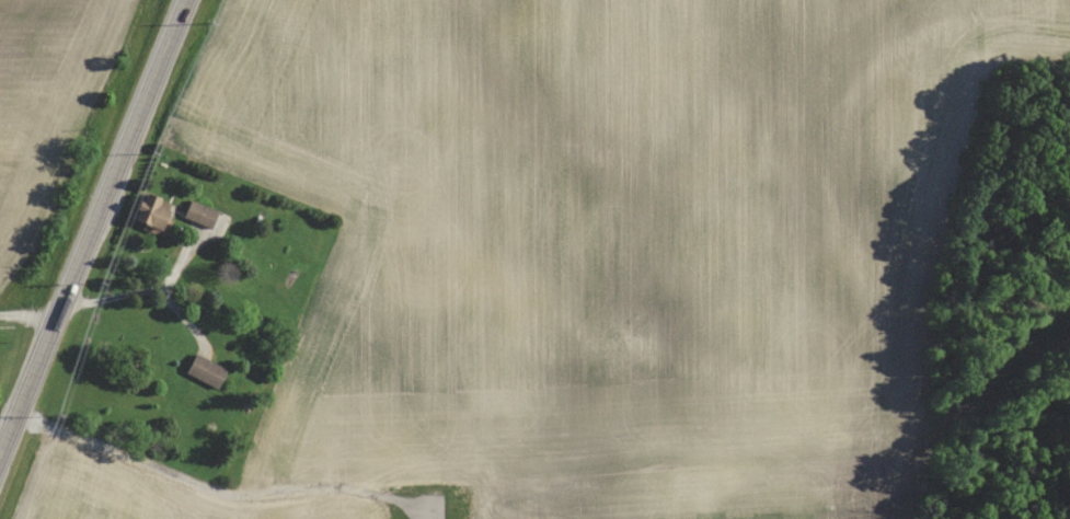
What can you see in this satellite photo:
building: (198, 212)
road: (96, 238)
airport runway: (433, 511)

